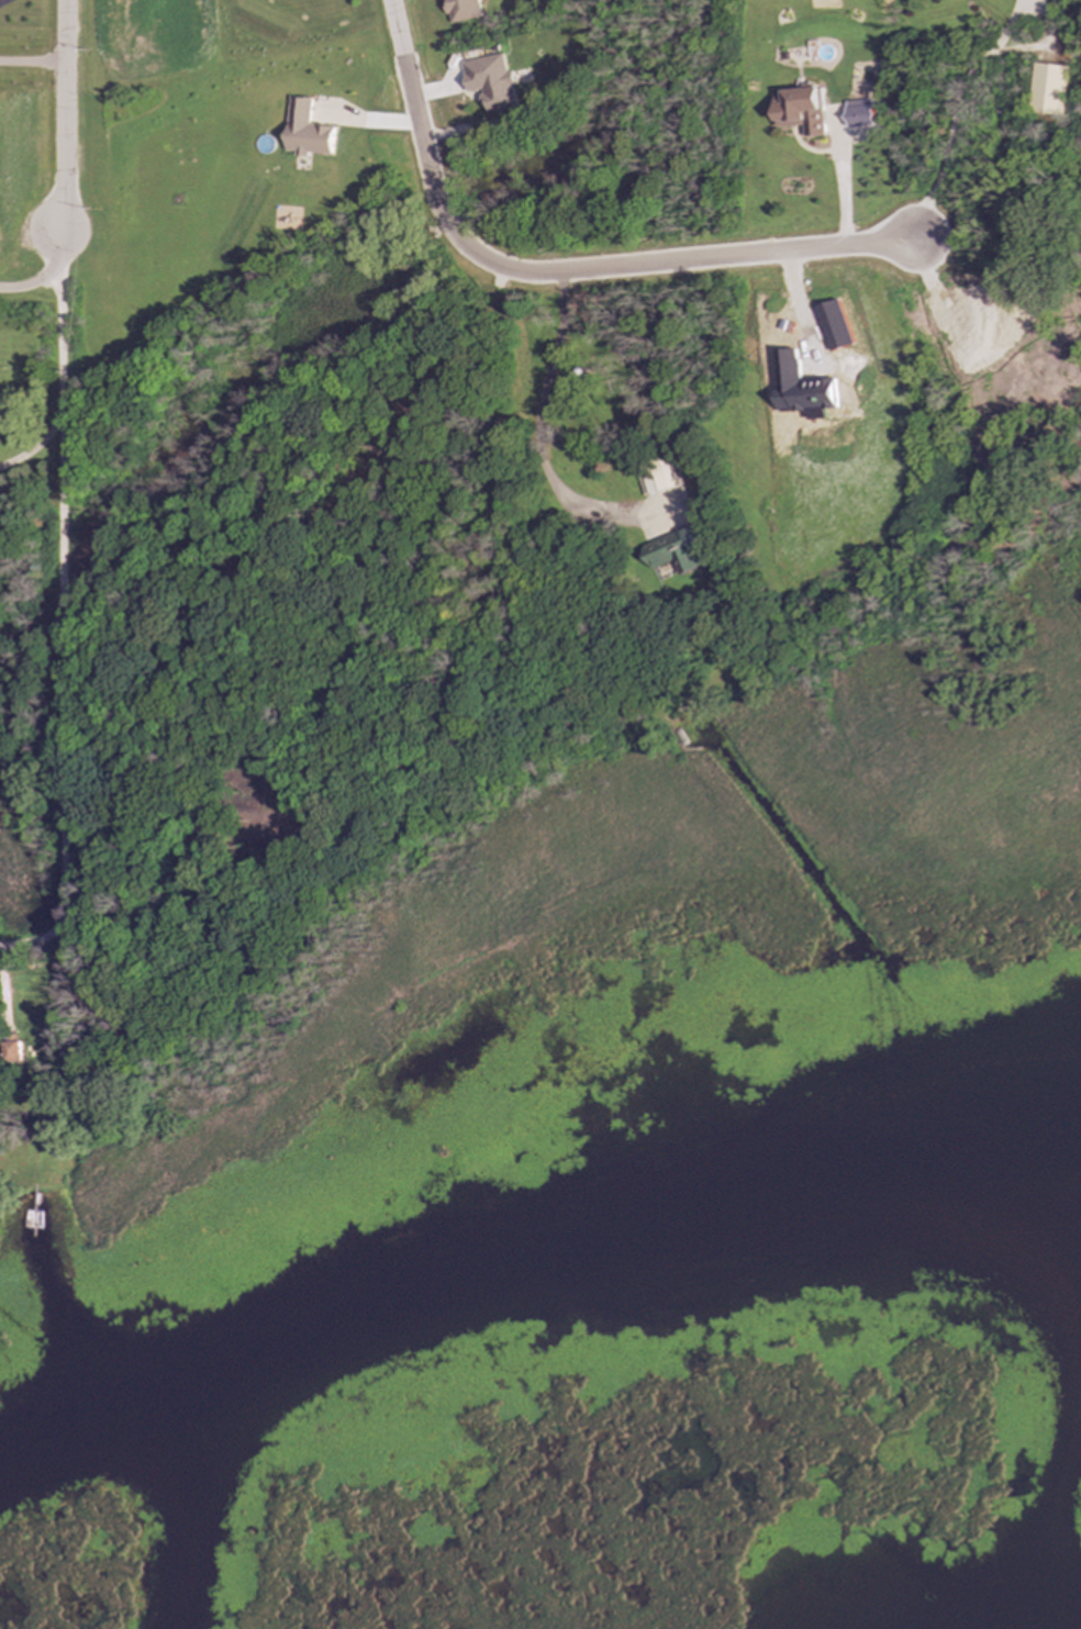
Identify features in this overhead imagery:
road: (1, 0)
building: (465, 10)
road: (32, 60)
road: (973, 69)
building: (493, 82)
building: (1052, 89)
building: (803, 110)
building: (862, 113)
road: (64, 116)
building: (309, 131)
road: (839, 166)
road: (554, 266)
road: (30, 286)
road: (555, 365)
road: (528, 414)
road: (34, 447)
building: (656, 480)
road: (60, 612)
building: (13, 1053)

